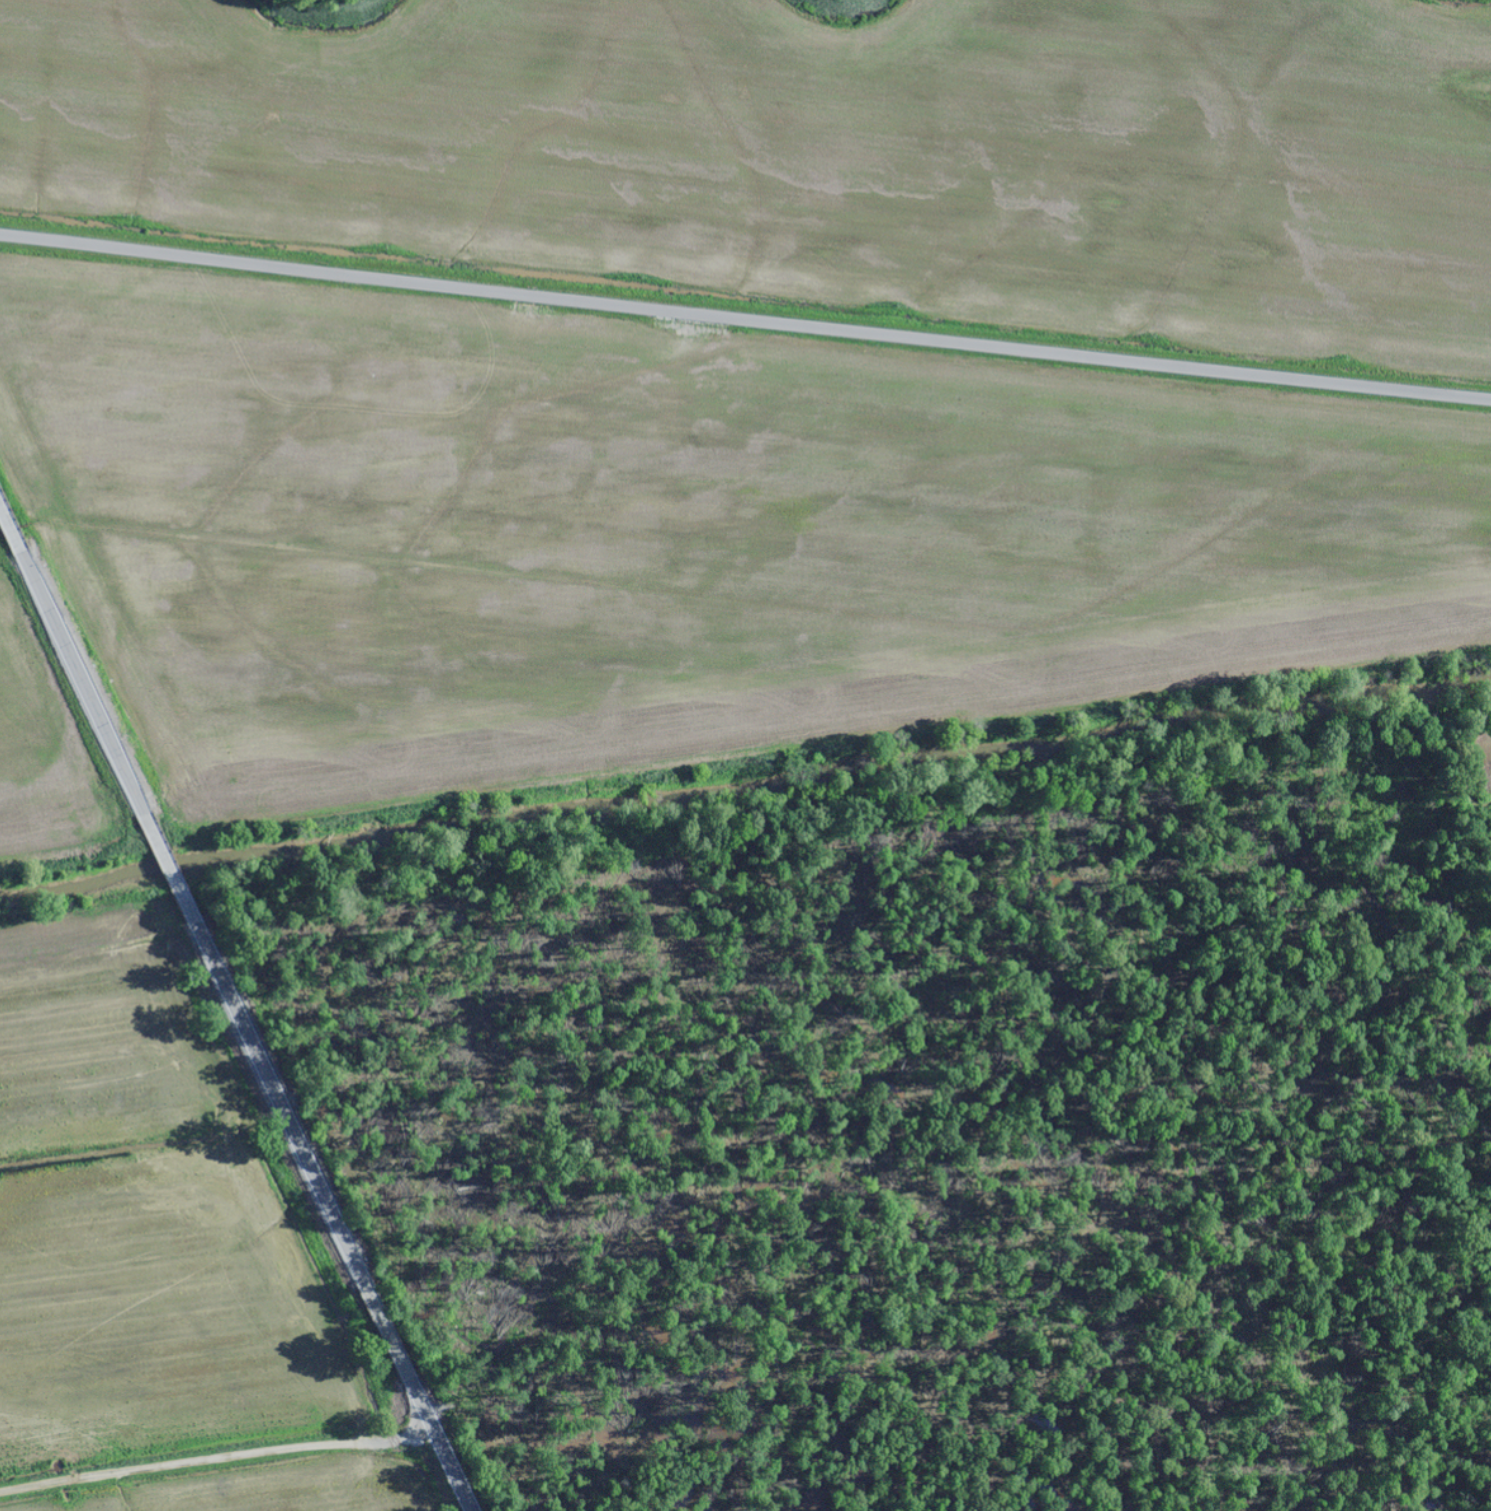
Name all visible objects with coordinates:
road: (745, 321)
road: (234, 1009)

